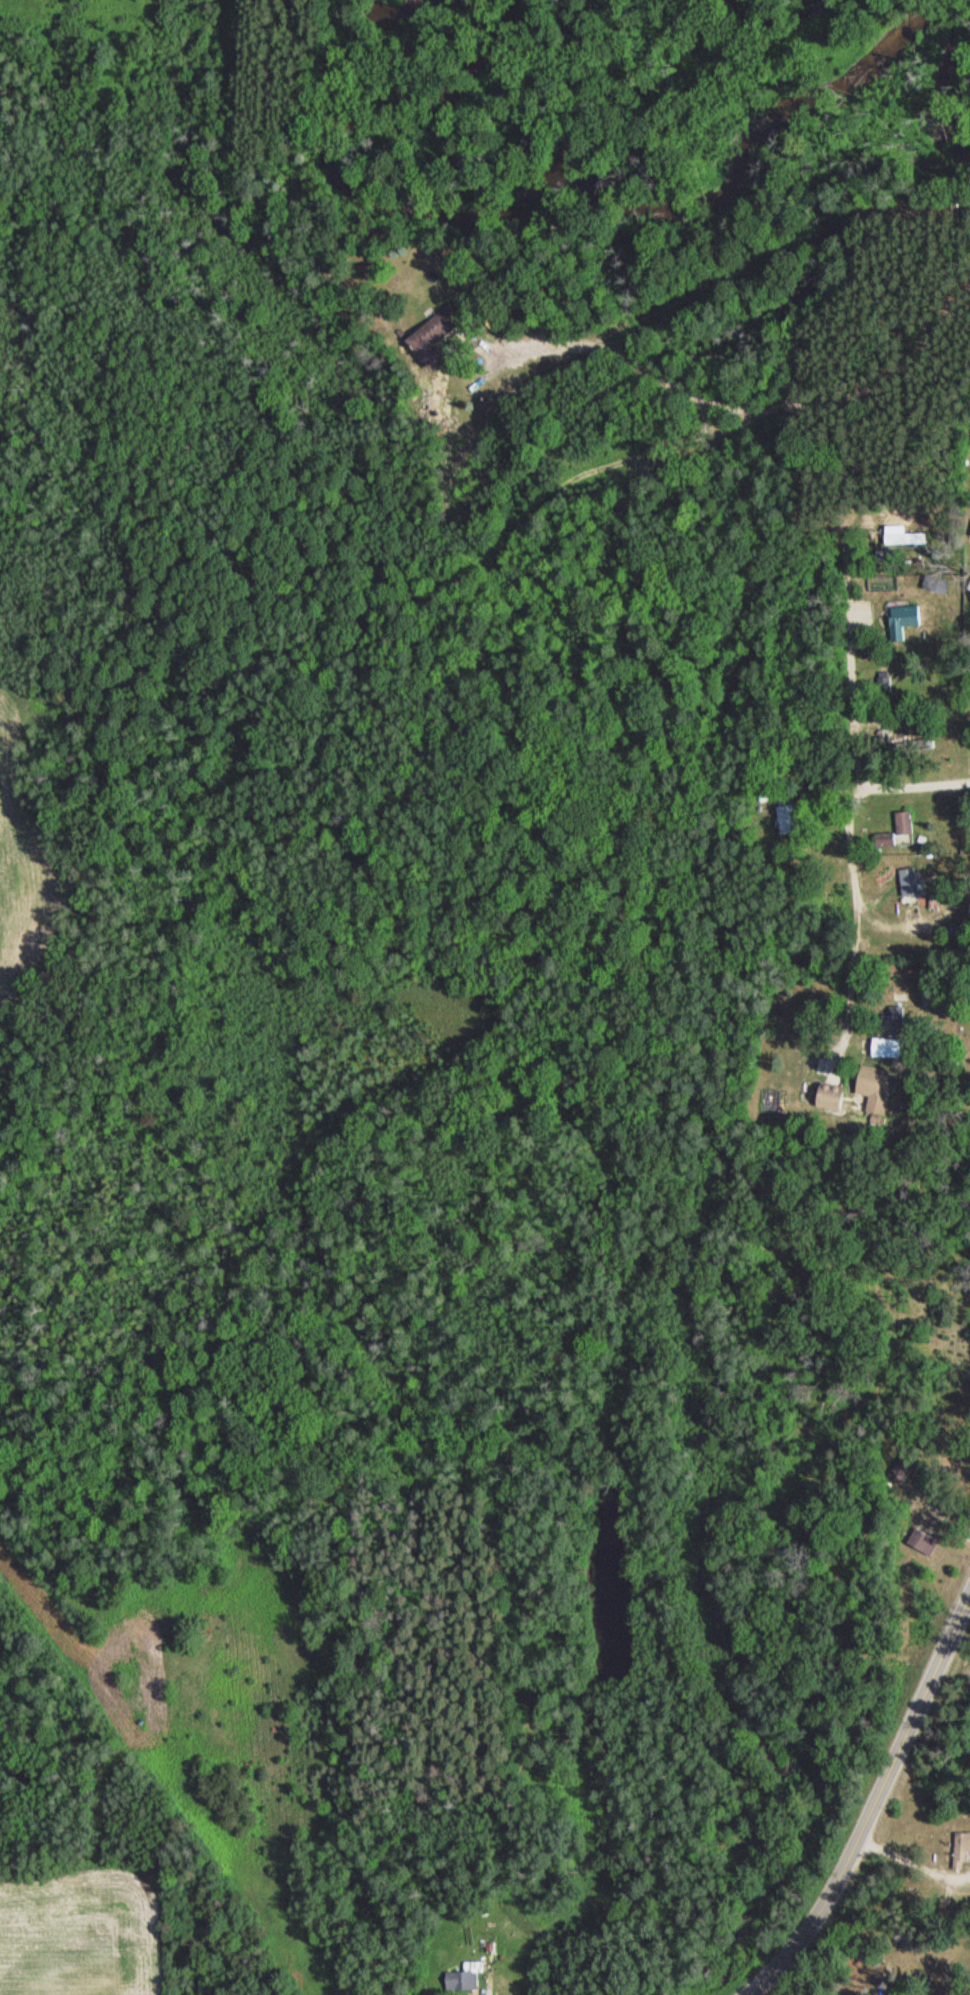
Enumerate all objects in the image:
river: (406, 2)
river: (592, 183)
building: (432, 336)
road: (608, 351)
road: (864, 372)
building: (901, 536)
building: (969, 536)
building: (885, 557)
building: (901, 620)
road: (850, 637)
building: (884, 685)
building: (903, 718)
road: (912, 782)
building: (902, 822)
building: (886, 839)
building: (907, 882)
road: (849, 988)
building: (892, 1020)
building: (885, 1047)
building: (878, 1091)
building: (828, 1095)
building: (898, 1471)
building: (921, 1542)
road: (875, 1807)
building: (960, 1850)
building: (462, 1978)
road: (486, 1988)

